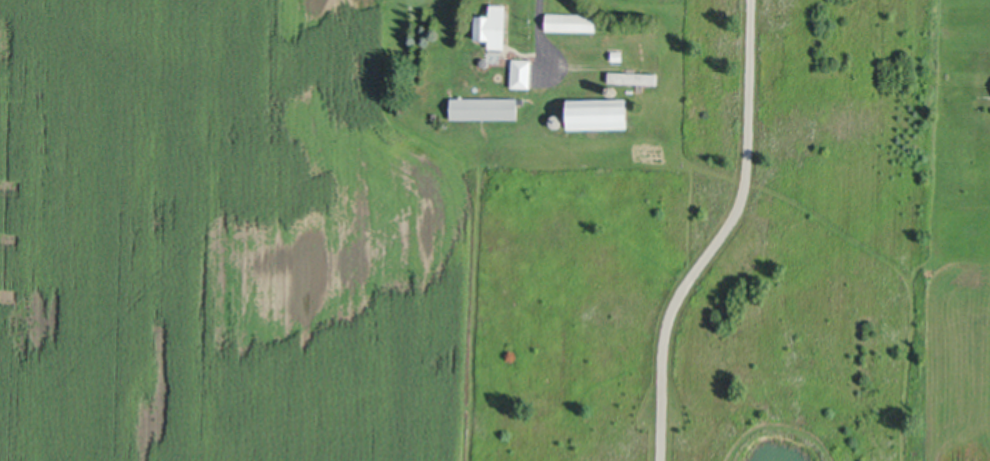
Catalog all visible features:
building: (571, 20)
road: (537, 21)
building: (493, 25)
building: (618, 53)
building: (485, 62)
building: (522, 71)
building: (634, 77)
building: (613, 89)
building: (486, 105)
building: (598, 111)
building: (557, 120)
road: (721, 235)

